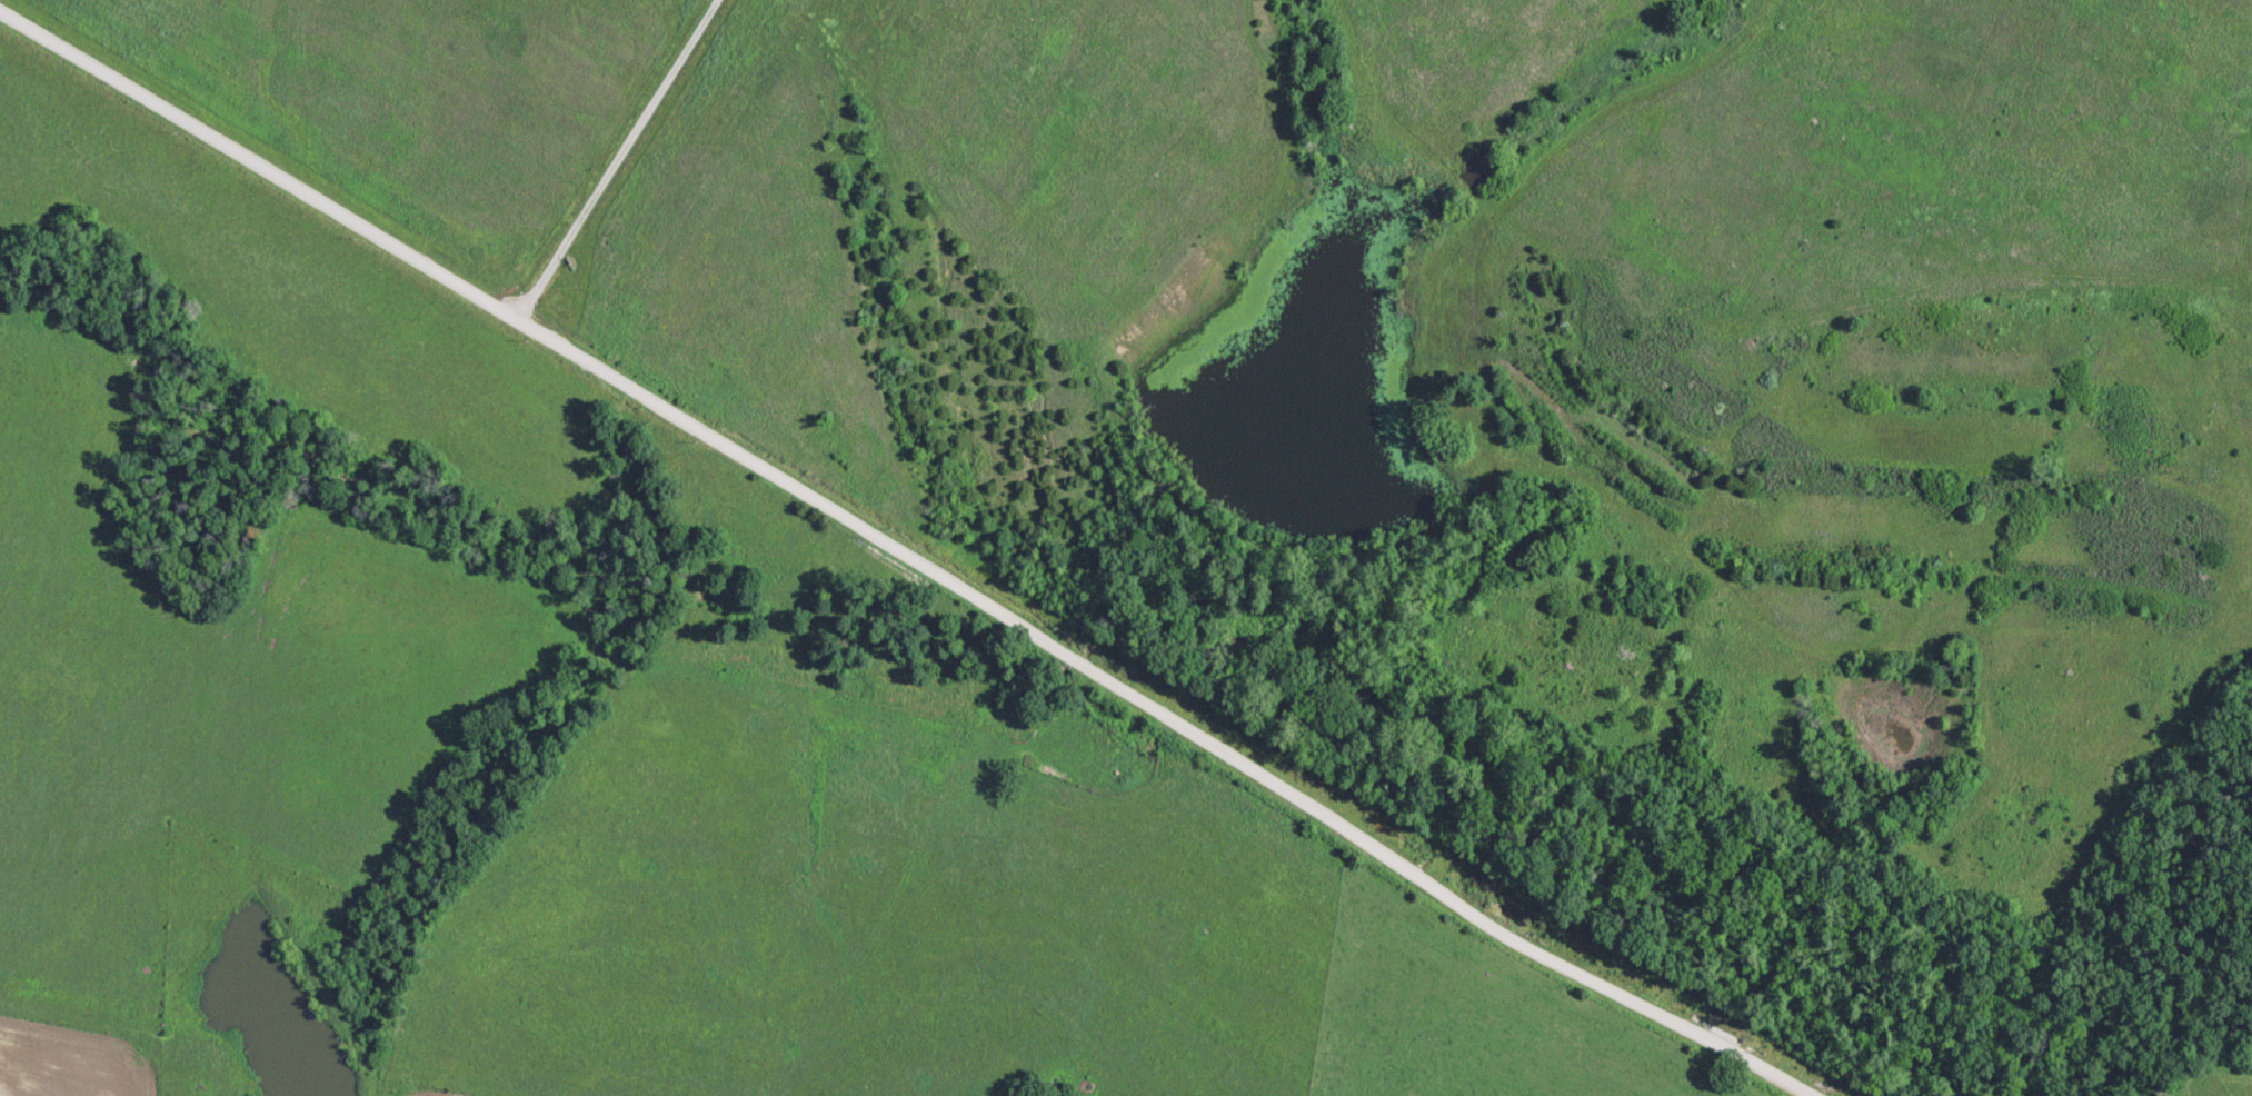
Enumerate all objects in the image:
road: (620, 160)
road: (895, 552)

